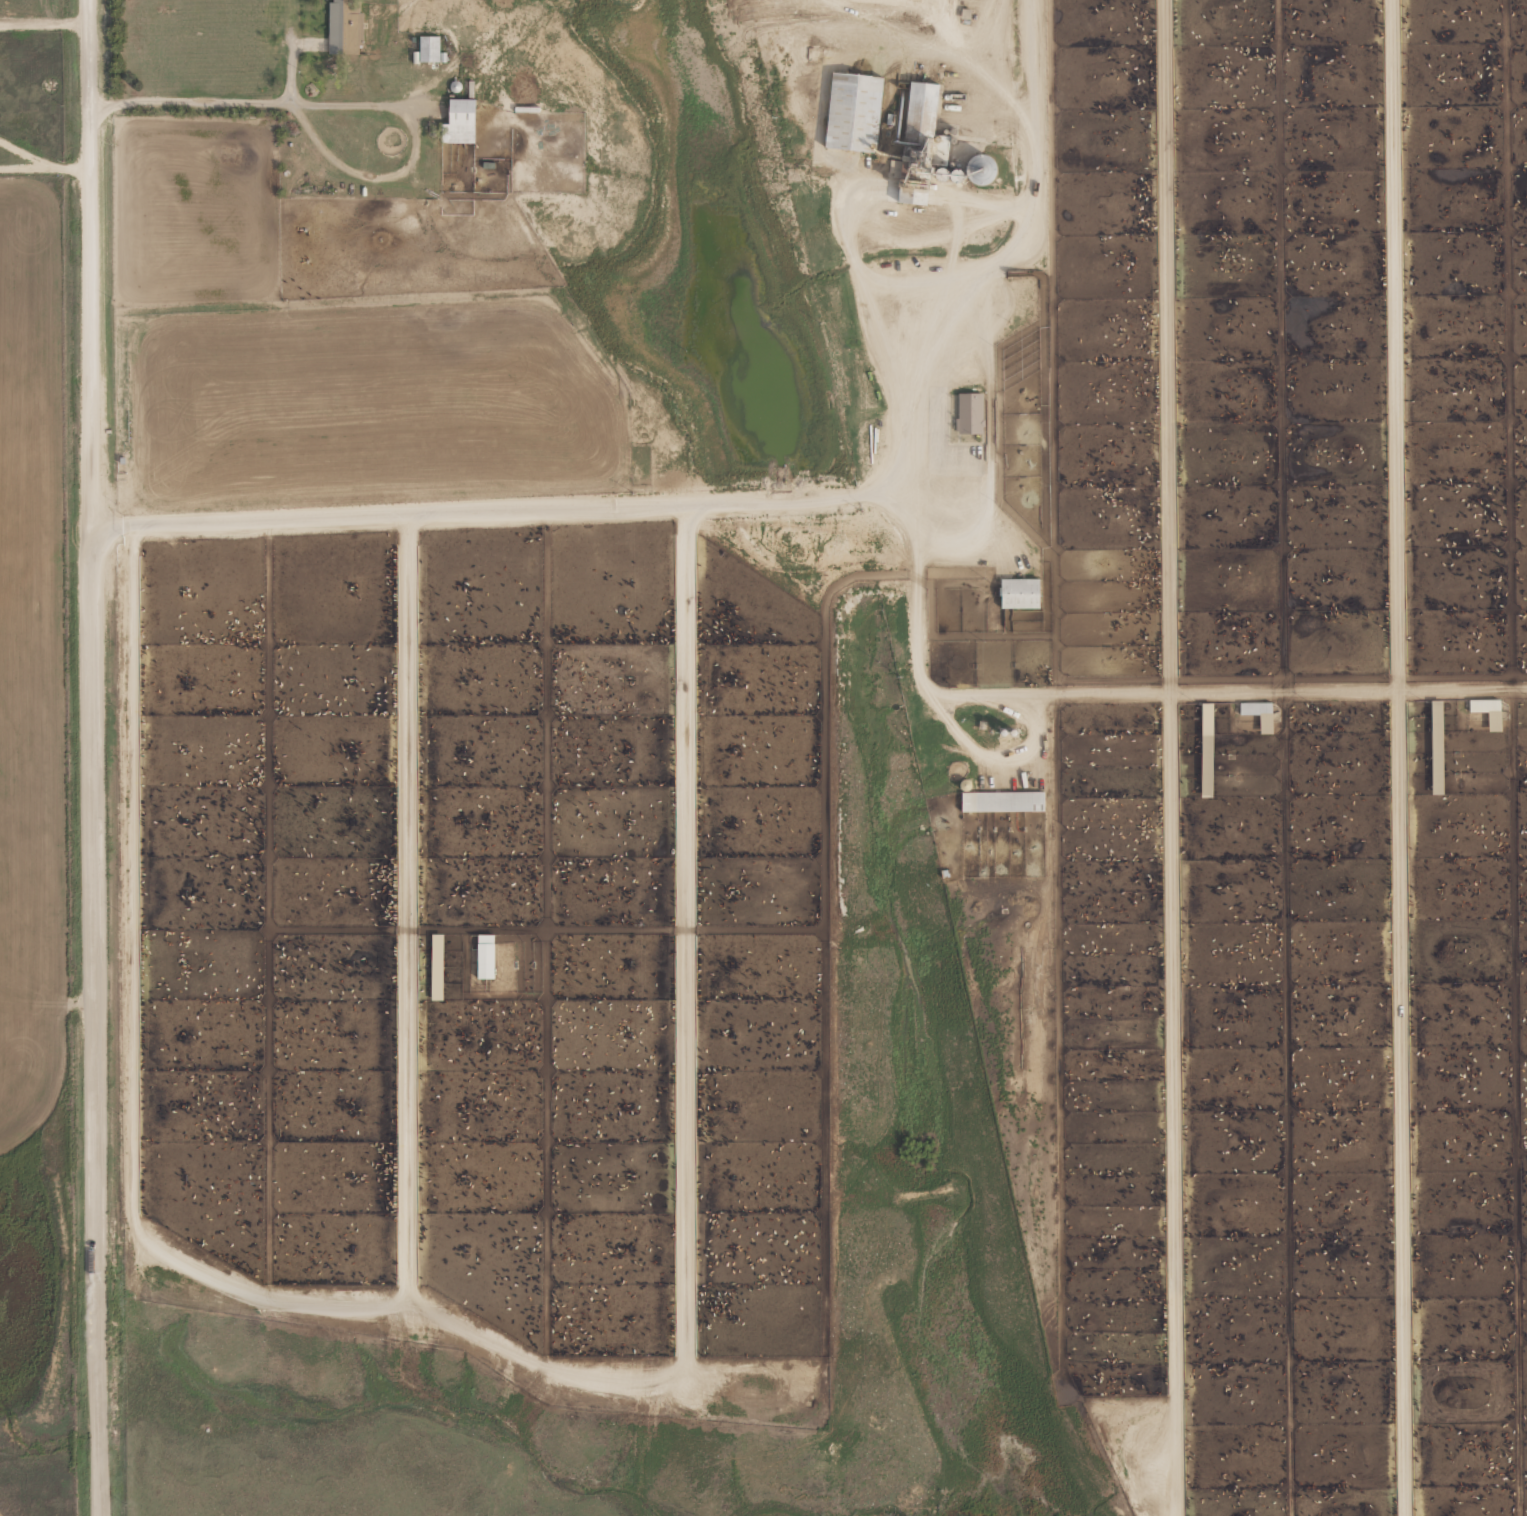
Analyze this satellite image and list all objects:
building: (344, 28)
building: (428, 49)
building: (851, 111)
building: (919, 113)
building: (458, 122)
storage tank: (978, 169)
building: (979, 169)
building: (969, 413)
road: (759, 502)
building: (1018, 593)
crop: (1219, 690)
road: (1119, 695)
building: (1487, 711)
building: (1258, 714)
building: (1428, 714)
building: (1200, 719)
road: (98, 757)
road: (1170, 757)
road: (1391, 757)
building: (1000, 804)

